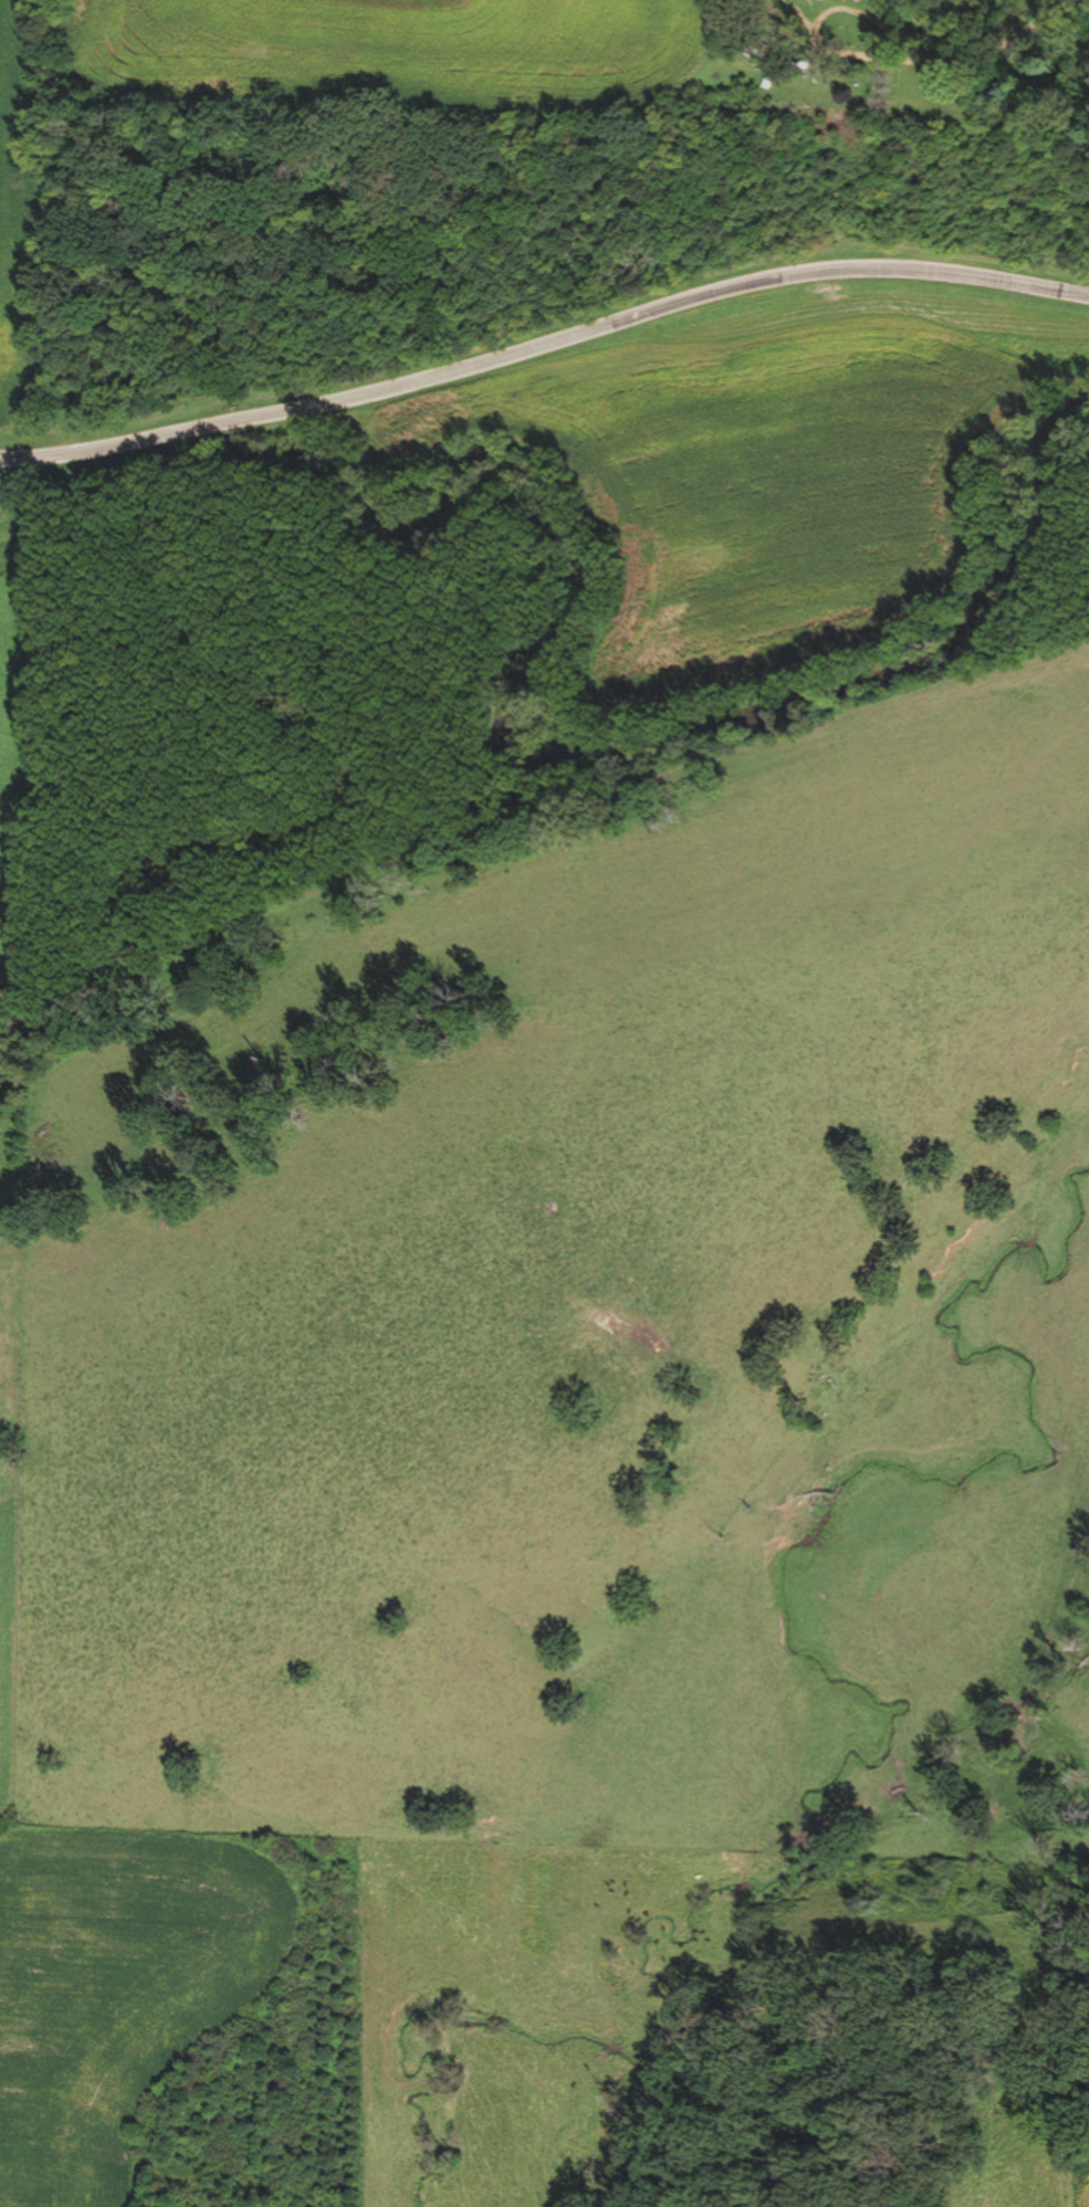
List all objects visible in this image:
road: (954, 60)
road: (543, 341)

